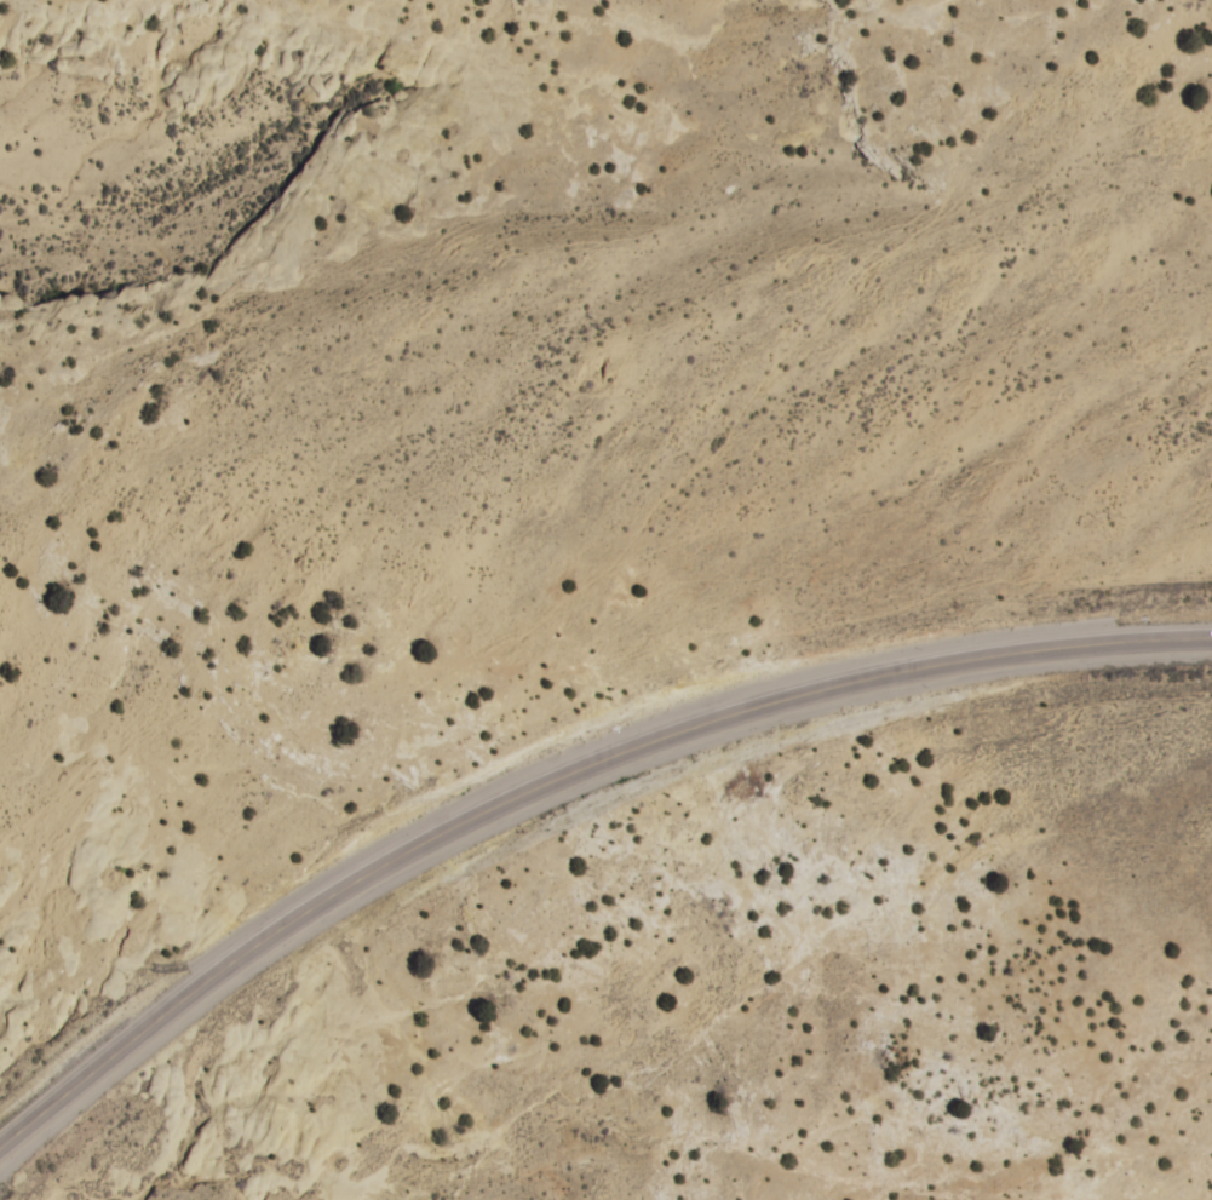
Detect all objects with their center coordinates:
road: (561, 779)
road: (412, 1030)
road: (513, 1173)

